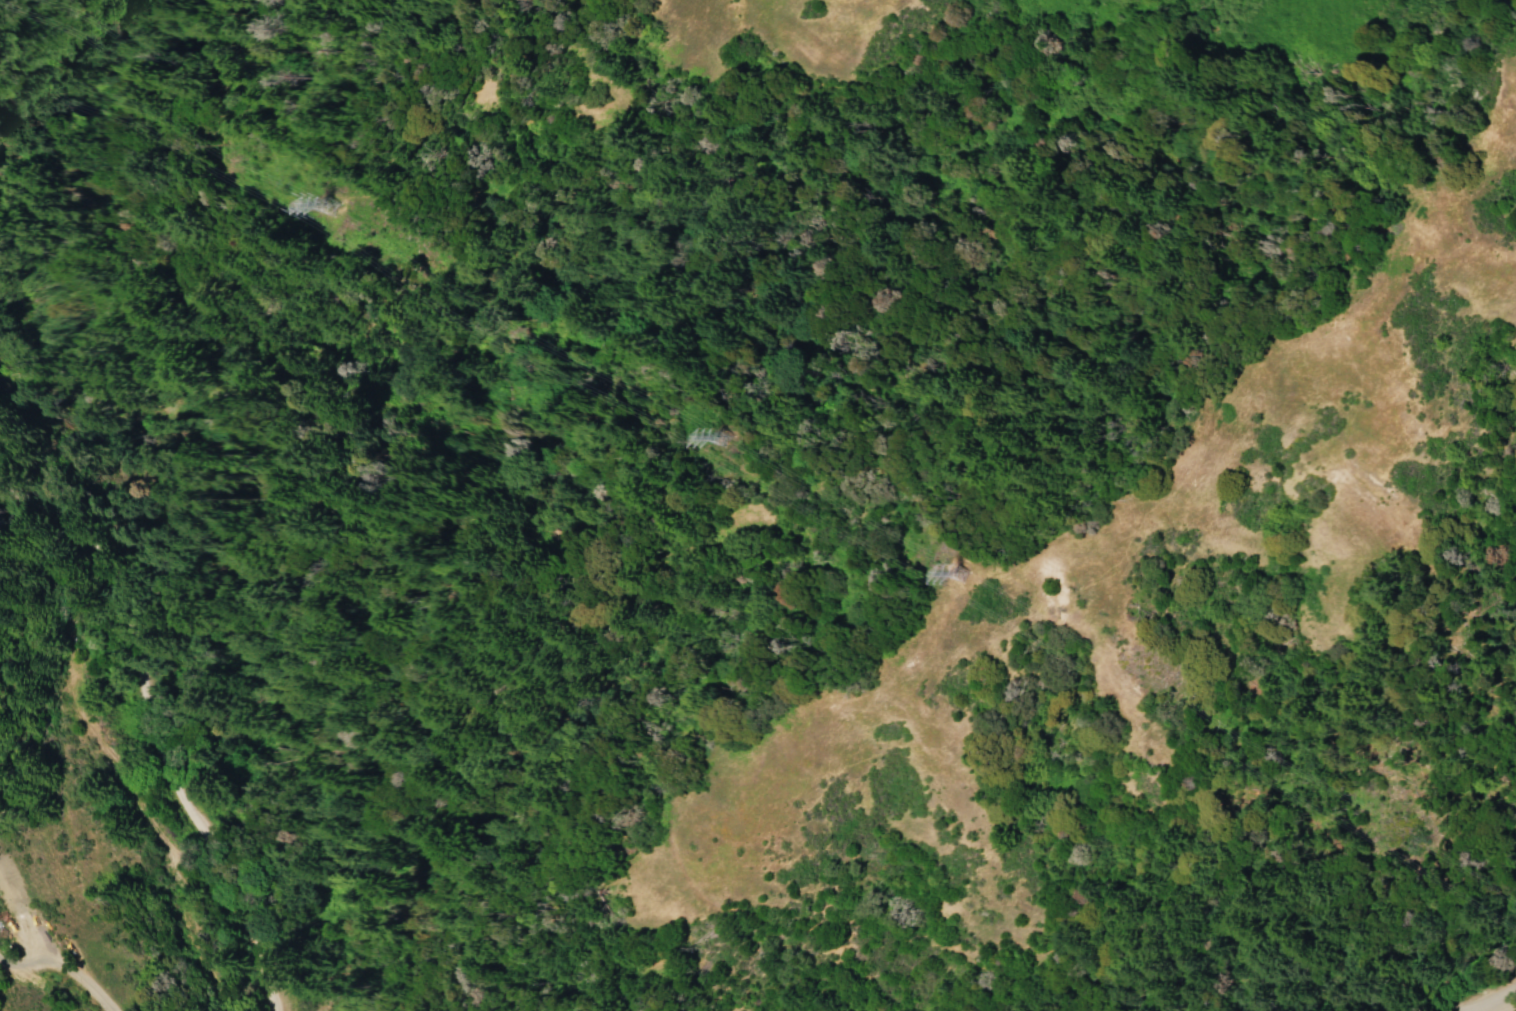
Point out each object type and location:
power tower: (332, 205)
power tower: (734, 437)
power tower: (966, 576)
road: (162, 739)
road: (1488, 995)

